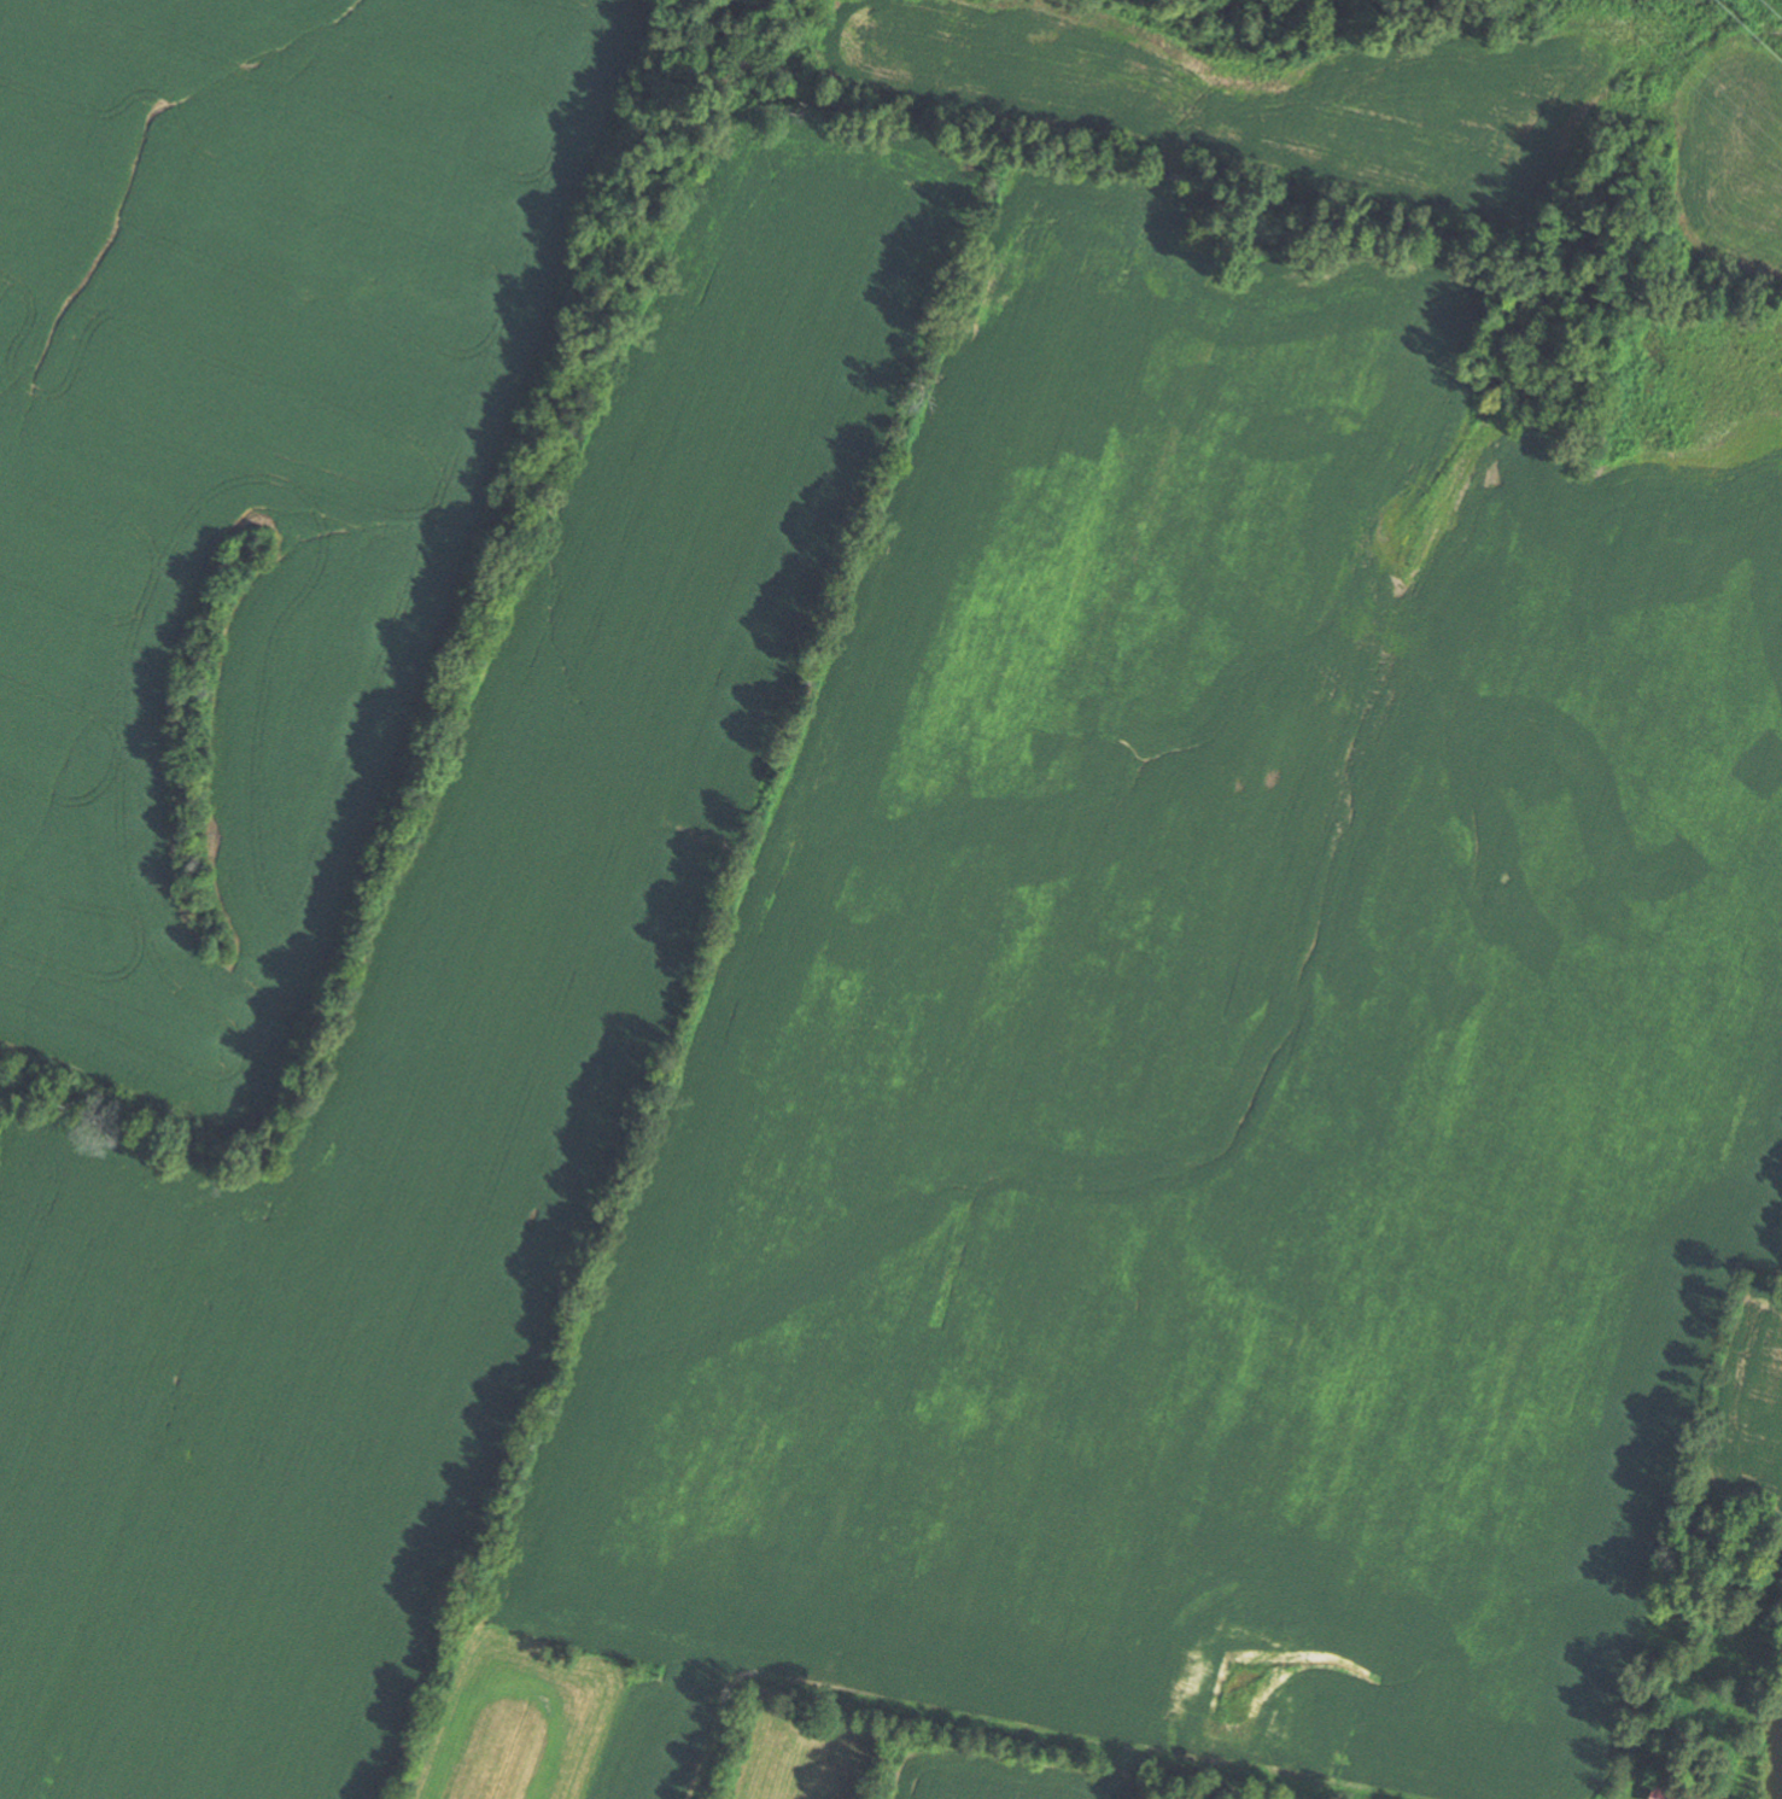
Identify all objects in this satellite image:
building: (1677, 1792)

